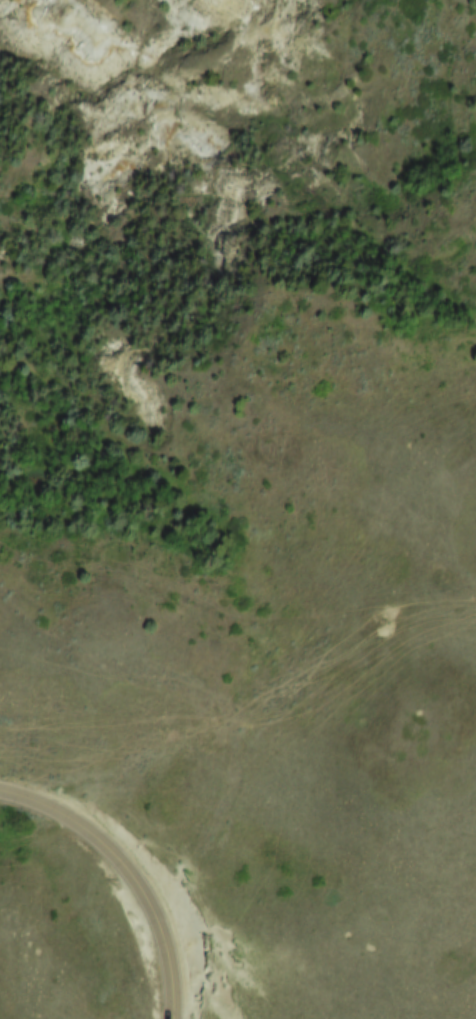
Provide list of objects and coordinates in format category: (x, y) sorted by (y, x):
road: (128, 872)

